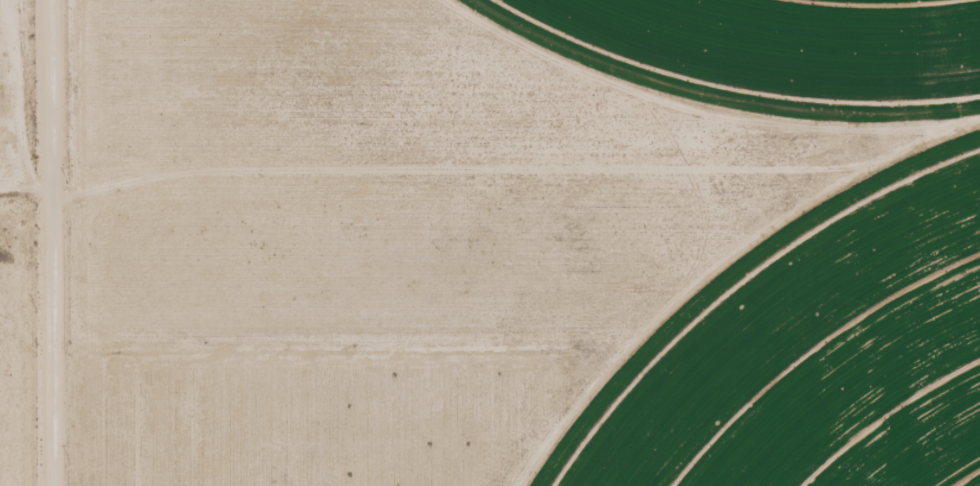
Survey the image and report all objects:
crop: (777, 49)
road: (490, 165)
road: (50, 243)
crop: (818, 358)

